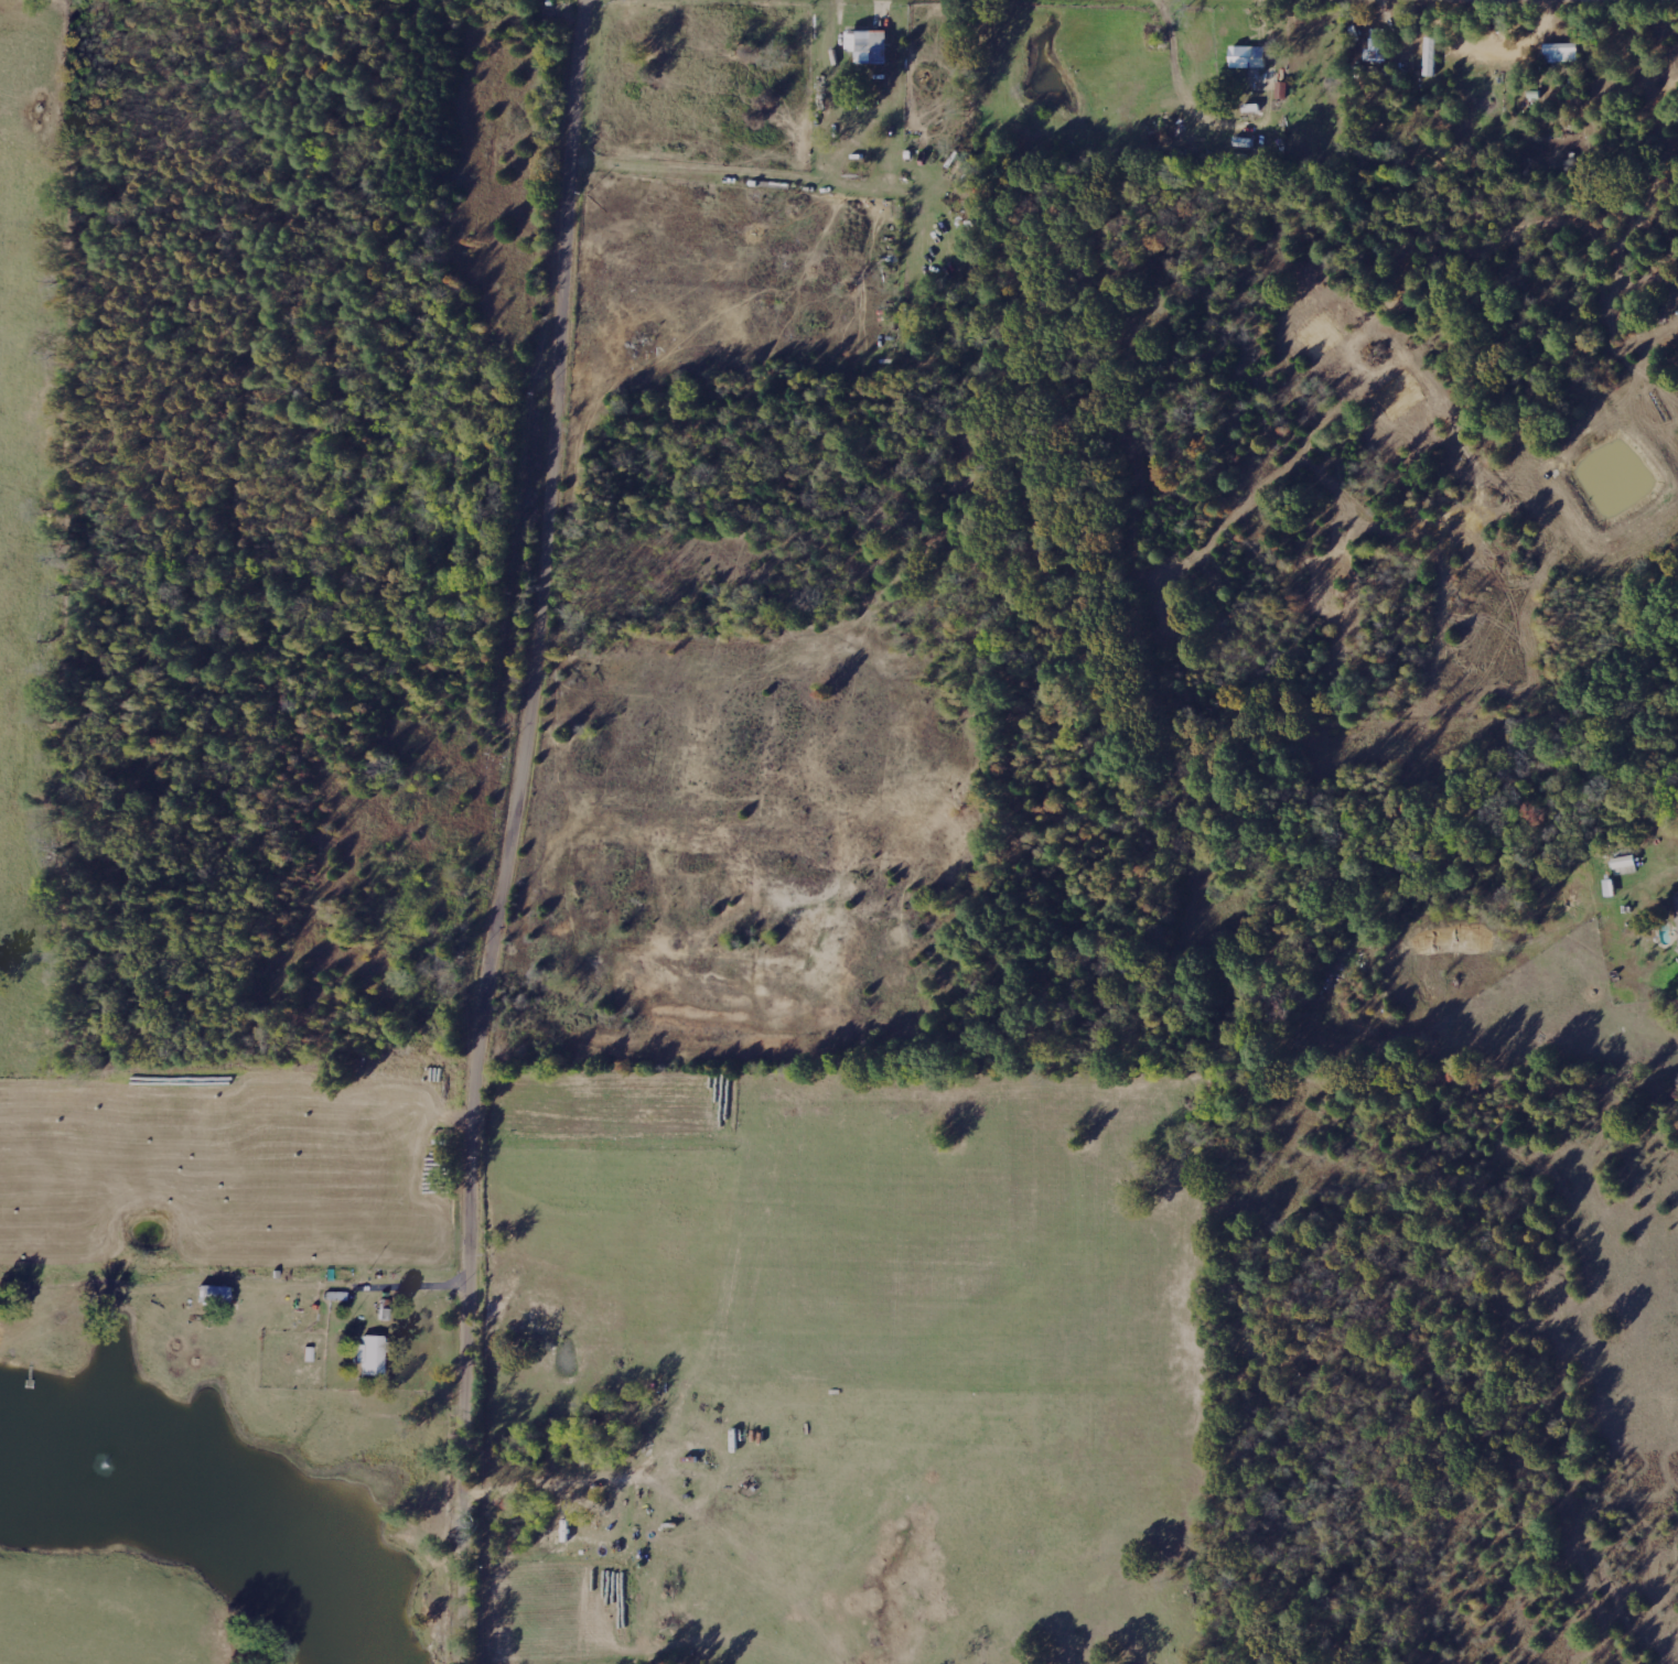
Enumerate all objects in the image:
road: (1596, 0)
building: (870, 45)
building: (1377, 48)
building: (1562, 53)
building: (1249, 56)
building: (1283, 90)
road: (509, 831)
building: (1625, 862)
building: (1677, 899)
building: (212, 1295)
building: (369, 1355)

